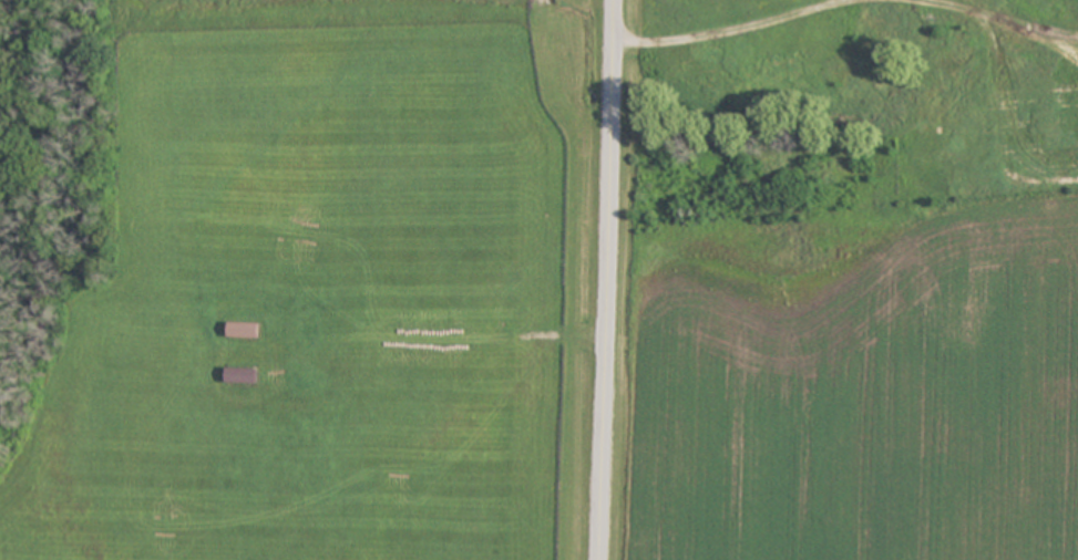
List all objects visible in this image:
road: (607, 280)
crop: (571, 286)
building: (245, 332)
building: (244, 377)

